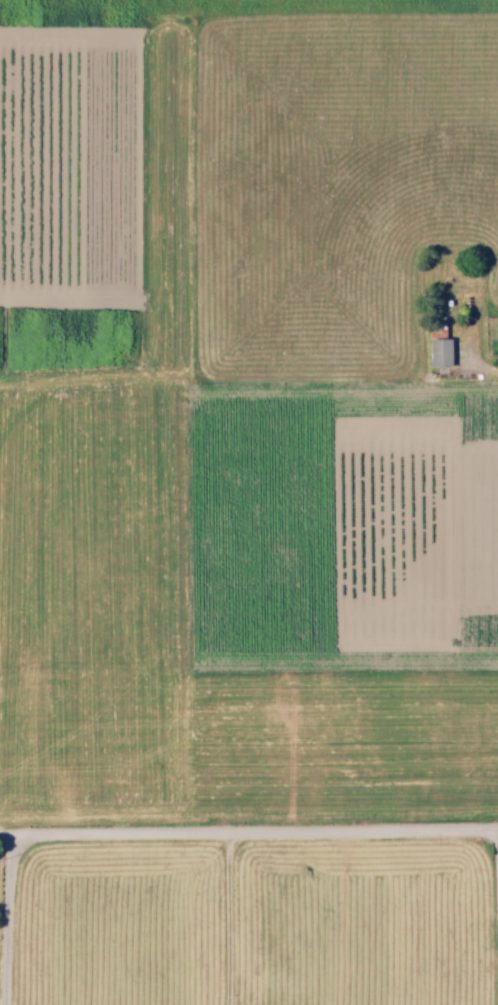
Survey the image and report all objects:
building: (440, 352)
road: (249, 837)
road: (493, 920)
road: (13, 922)

